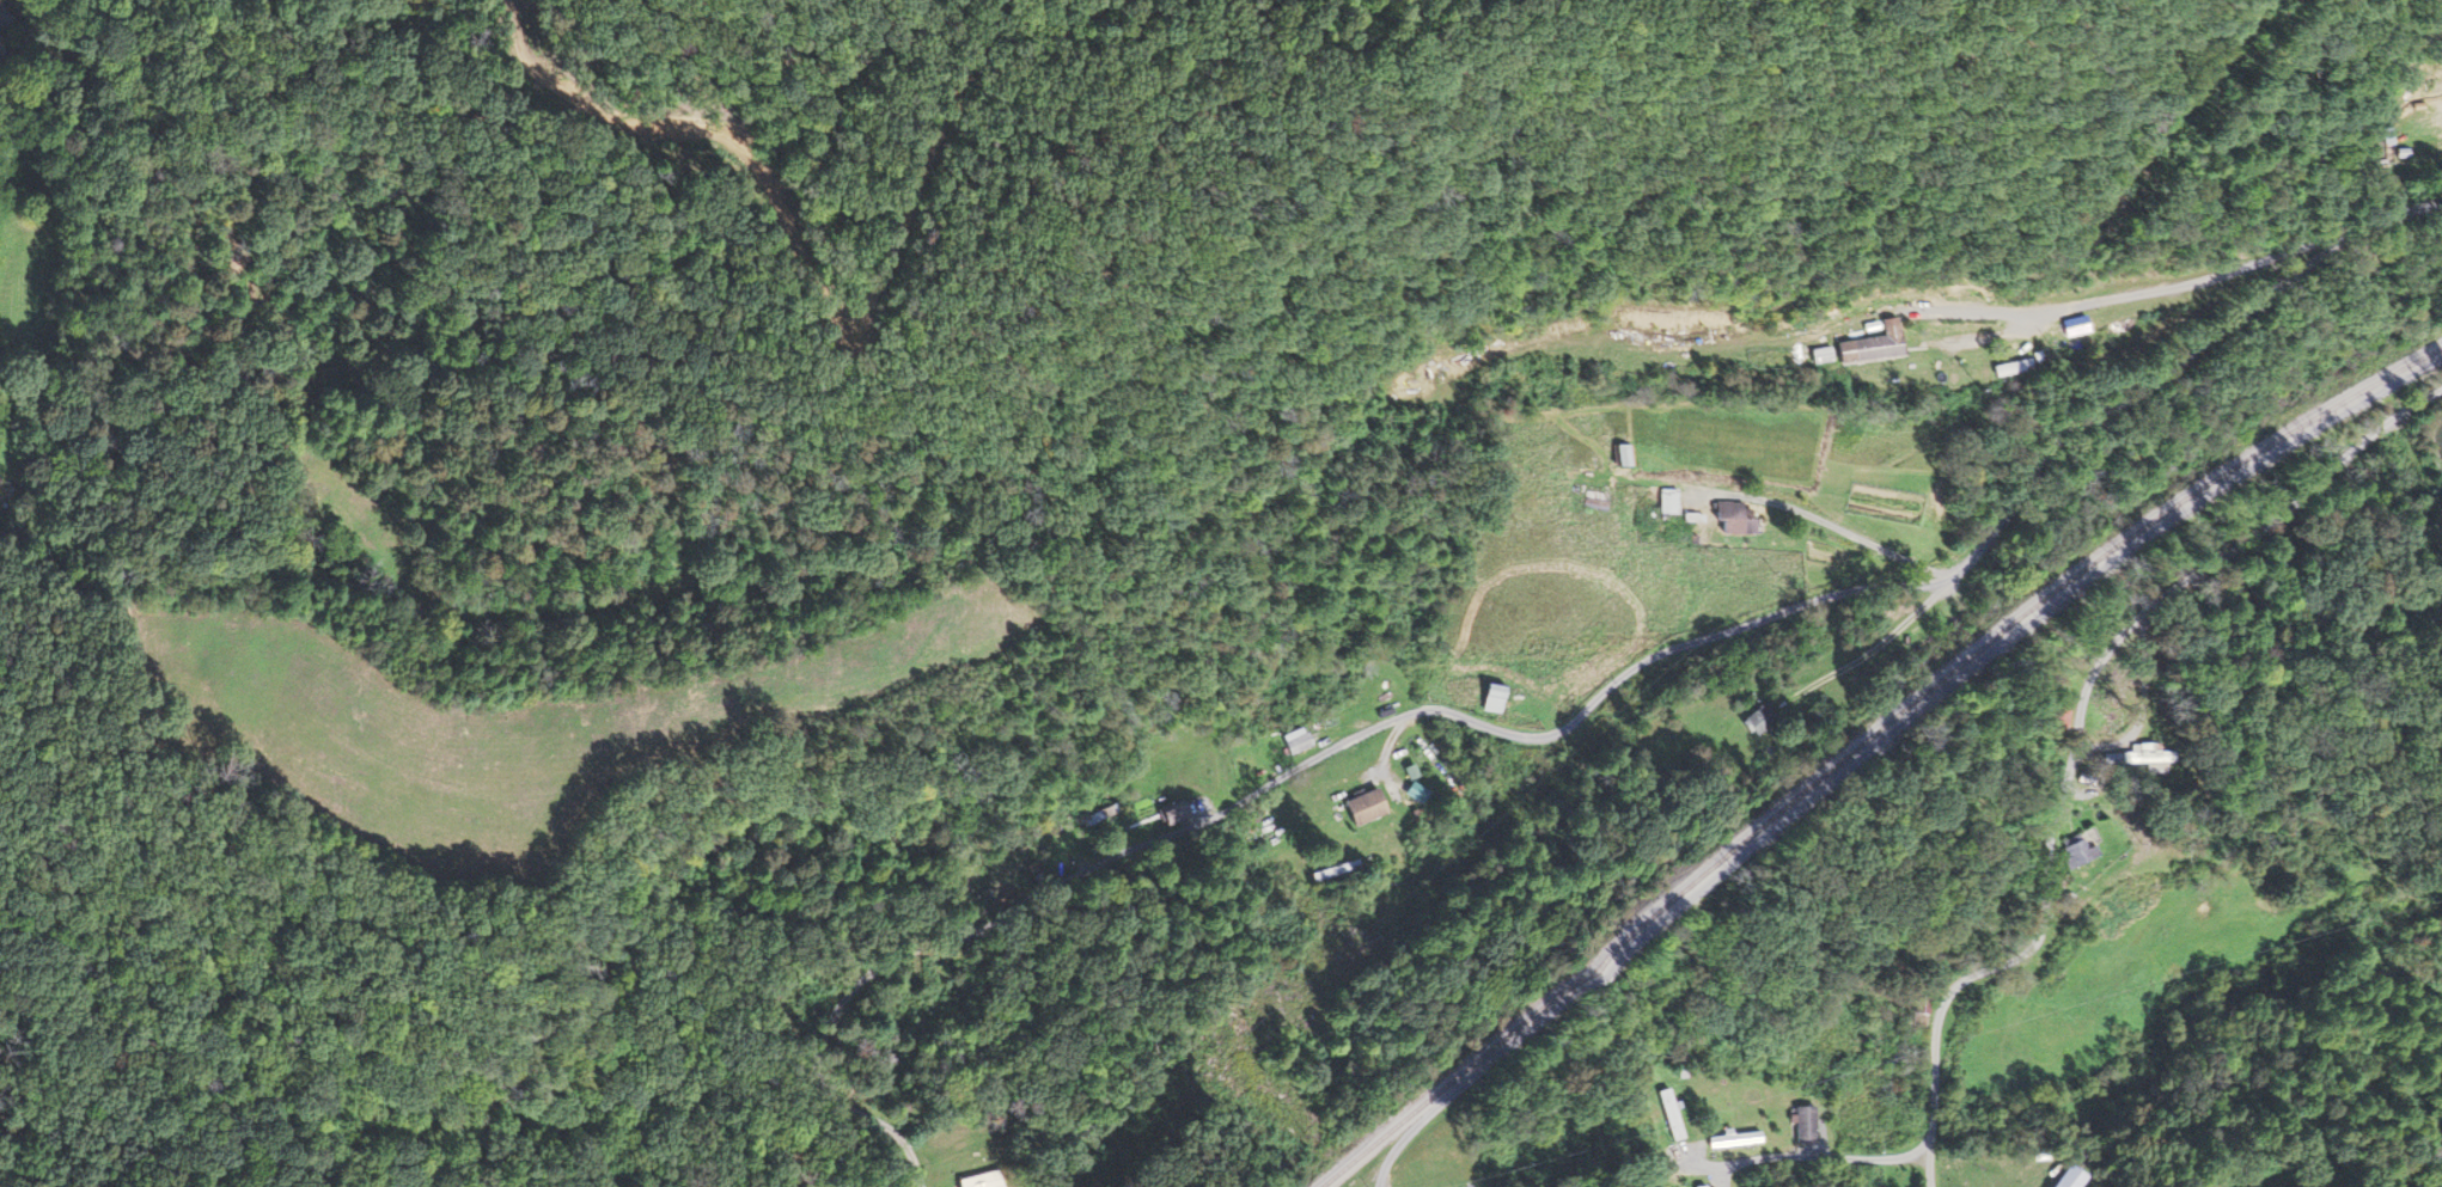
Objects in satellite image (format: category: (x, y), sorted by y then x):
building: (2431, 123)
building: (1881, 345)
building: (2004, 368)
road: (2088, 420)
building: (1629, 457)
building: (1605, 494)
building: (1672, 502)
building: (1741, 520)
building: (1498, 698)
road: (1921, 706)
building: (1764, 720)
road: (2077, 733)
building: (1301, 740)
railway: (1863, 742)
building: (2133, 755)
building: (1369, 807)
building: (1176, 812)
building: (2083, 852)
building: (1671, 1115)
building: (1738, 1139)
building: (2065, 1179)
building: (990, 1183)

